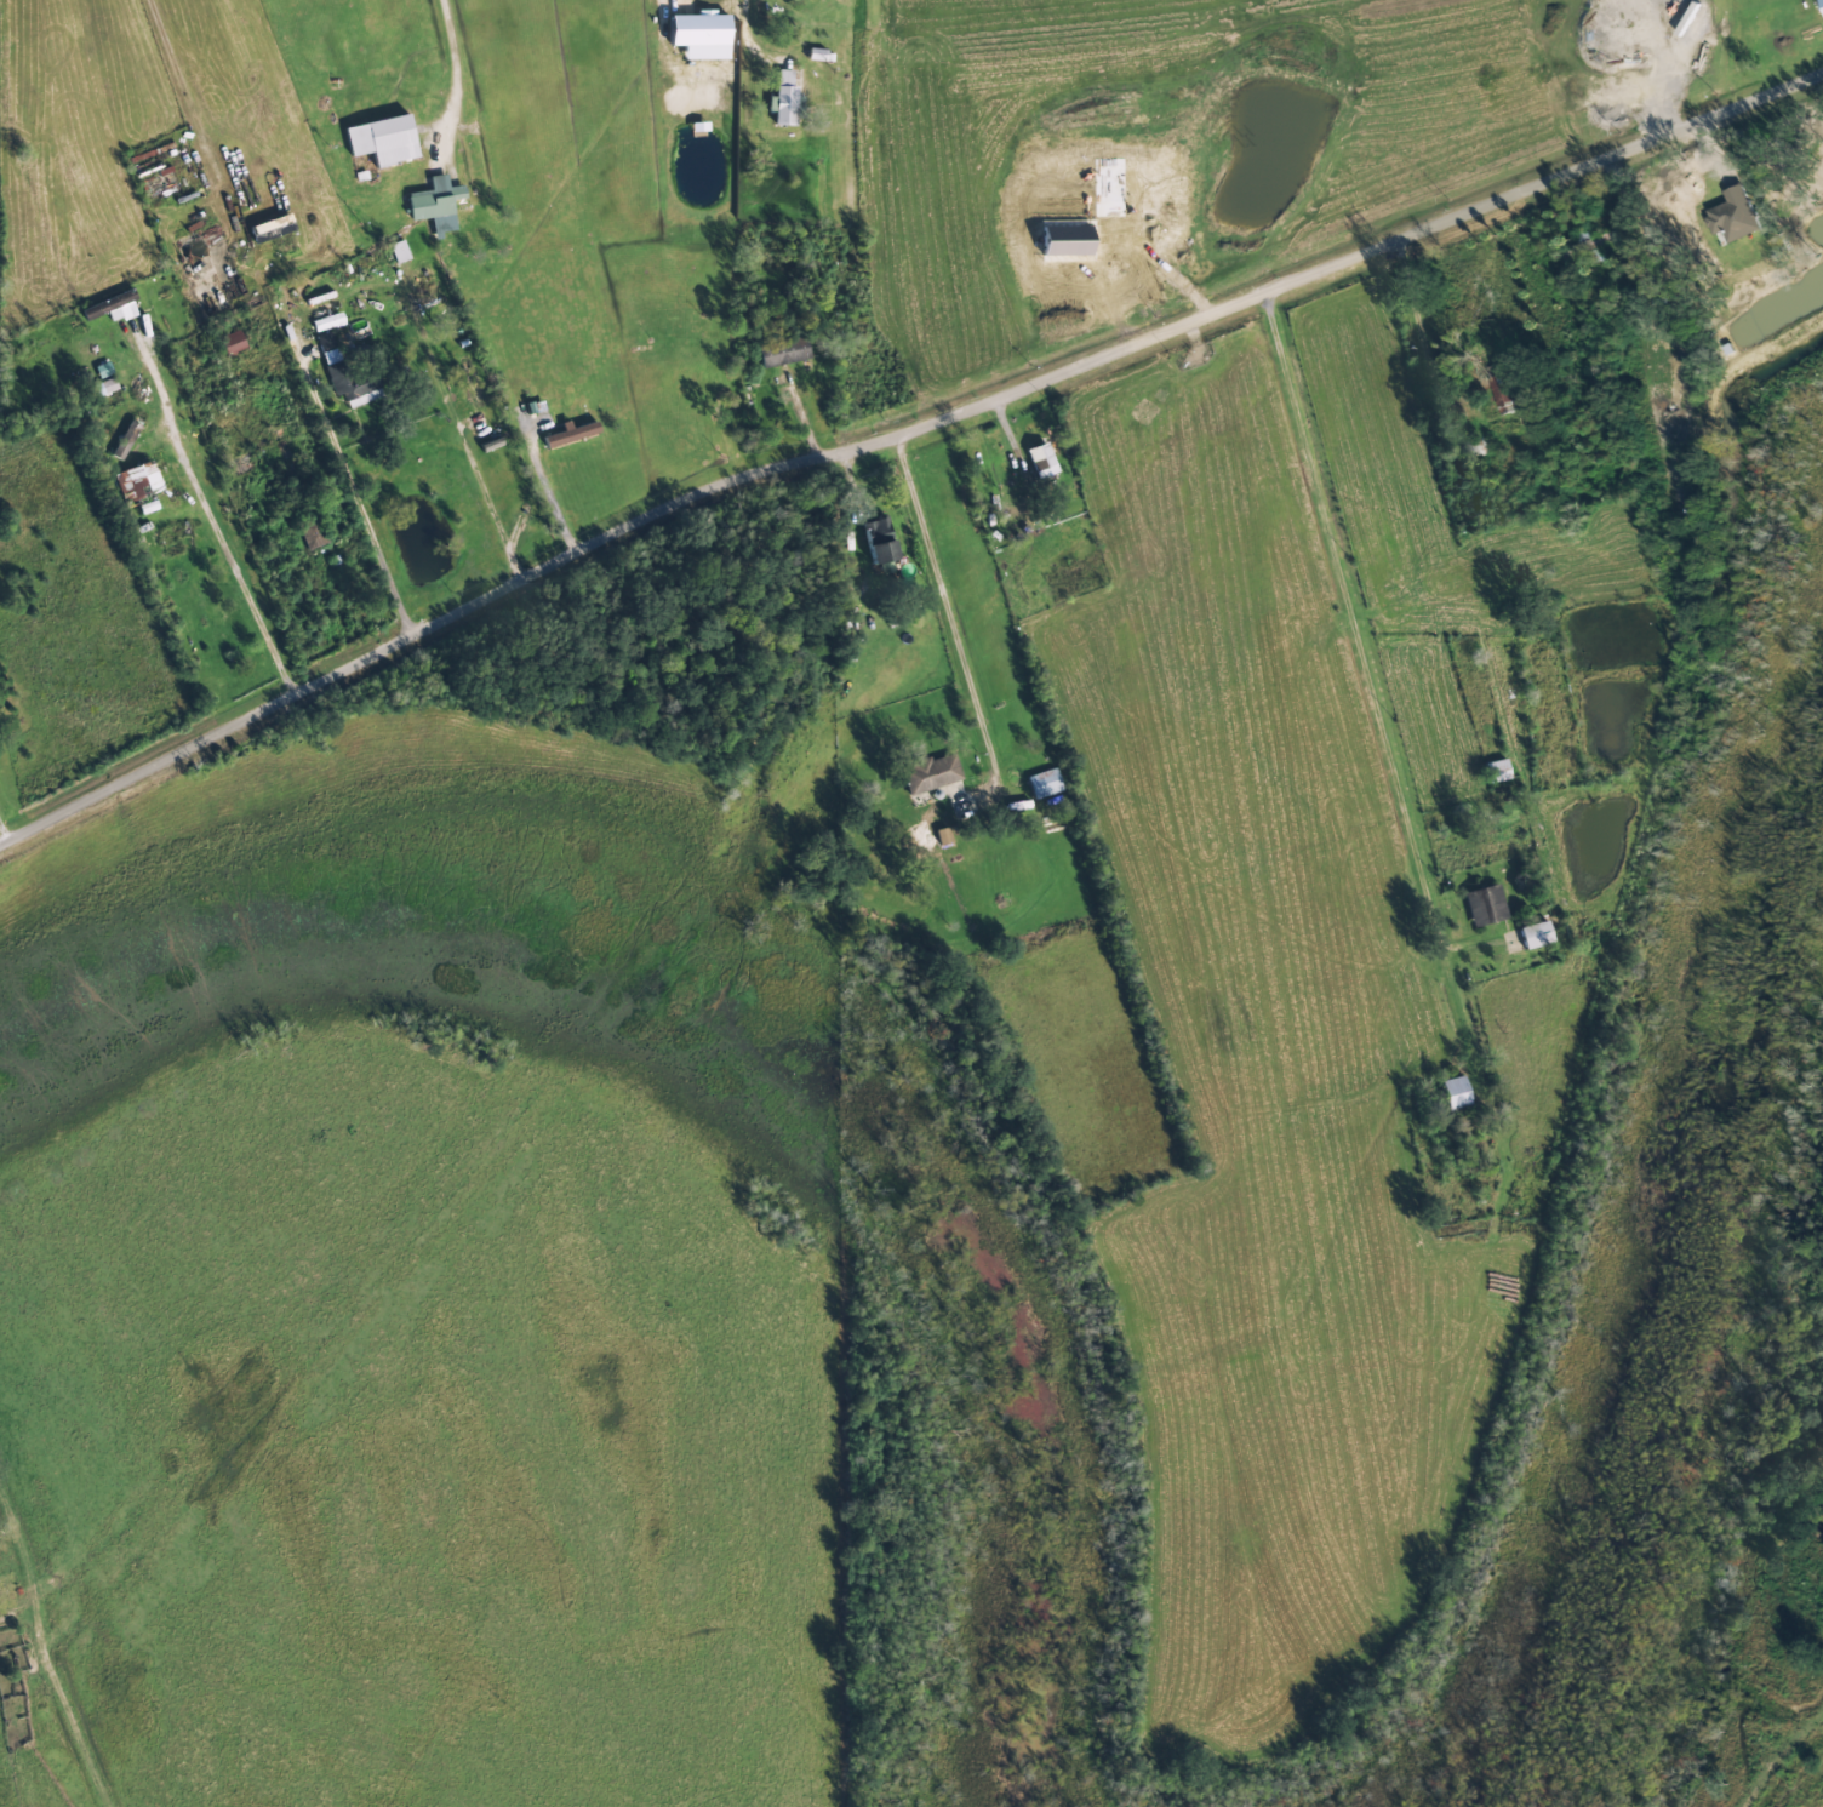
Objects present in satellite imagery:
building: (1822, 1)
building: (782, 99)
building: (379, 139)
building: (435, 205)
building: (1733, 215)
building: (269, 228)
building: (398, 251)
building: (109, 308)
building: (326, 322)
building: (781, 353)
building: (349, 387)
building: (1504, 390)
road: (898, 435)
building: (124, 440)
building: (1040, 459)
building: (136, 481)
building: (878, 541)
road: (947, 610)
building: (1496, 771)
building: (930, 773)
building: (1042, 784)
building: (1484, 905)
building: (1533, 936)
building: (1453, 1093)

